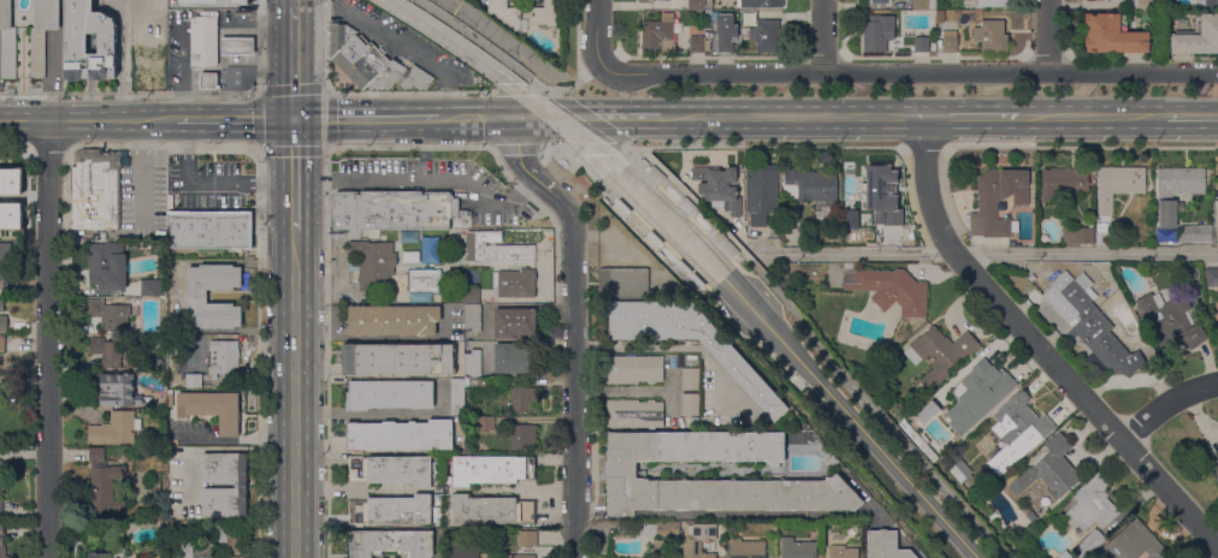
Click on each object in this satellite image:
building: (651, 0)
building: (1101, 0)
building: (880, 1)
road: (295, 2)
building: (767, 2)
building: (992, 2)
building: (1208, 4)
building: (696, 5)
building: (923, 5)
building: (1145, 5)
building: (549, 13)
building: (507, 14)
building: (940, 17)
building: (41, 34)
road: (595, 34)
road: (822, 35)
building: (1113, 35)
building: (765, 36)
building: (876, 36)
building: (991, 36)
road: (1048, 36)
building: (1198, 36)
building: (658, 37)
building: (6, 42)
building: (89, 42)
building: (203, 42)
building: (698, 44)
building: (921, 44)
building: (948, 44)
road: (486, 46)
building: (722, 46)
building: (237, 47)
road: (259, 47)
building: (367, 60)
road: (125, 61)
road: (295, 61)
road: (602, 65)
building: (148, 66)
road: (909, 71)
building: (208, 81)
road: (562, 88)
road: (514, 90)
road: (365, 91)
road: (260, 94)
road: (366, 118)
road: (477, 118)
traffic signals: (516, 118)
road: (536, 118)
traffic signals: (555, 118)
road: (589, 118)
road: (607, 118)
road: (793, 118)
road: (975, 118)
road: (1093, 118)
road: (1192, 118)
road: (78, 119)
road: (226, 119)
traffic signals: (295, 119)
road: (1078, 146)
road: (410, 147)
road: (552, 147)
road: (593, 147)
road: (763, 147)
road: (515, 148)
road: (924, 148)
road: (295, 174)
building: (655, 174)
building: (1093, 179)
building: (7, 180)
building: (1063, 182)
parking lot: (209, 183)
parking lot: (439, 185)
building: (1117, 185)
building: (810, 186)
building: (1176, 186)
building: (719, 188)
building: (96, 189)
building: (761, 194)
building: (877, 198)
road: (681, 202)
building: (987, 203)
building: (686, 206)
building: (620, 208)
building: (394, 210)
road: (633, 218)
building: (7, 222)
building: (209, 230)
building: (1217, 231)
building: (1195, 233)
building: (716, 235)
building: (1077, 236)
building: (652, 239)
building: (144, 245)
road: (260, 247)
building: (728, 248)
building: (496, 250)
road: (993, 254)
building: (410, 256)
building: (373, 265)
building: (107, 266)
building: (680, 268)
building: (4, 269)
building: (784, 269)
building: (1212, 277)
building: (422, 280)
building: (693, 281)
building: (514, 283)
building: (622, 283)
building: (153, 287)
building: (891, 290)
building: (469, 295)
building: (197, 296)
building: (419, 296)
building: (1, 307)
building: (111, 315)
building: (392, 320)
building: (1170, 320)
building: (514, 322)
building: (1090, 322)
building: (2, 323)
building: (1217, 325)
road: (573, 326)
road: (47, 338)
building: (2, 344)
road: (816, 345)
road: (669, 348)
road: (1039, 348)
building: (116, 352)
building: (939, 354)
building: (224, 357)
building: (397, 360)
building: (514, 360)
building: (472, 364)
building: (634, 369)
building: (744, 374)
building: (690, 379)
building: (194, 381)
building: (483, 386)
building: (120, 390)
road: (295, 394)
building: (389, 394)
road: (623, 394)
building: (978, 394)
building: (456, 397)
building: (170, 399)
building: (522, 399)
building: (690, 404)
road: (1166, 406)
building: (212, 409)
building: (634, 414)
road: (379, 415)
building: (692, 422)
building: (485, 423)
building: (116, 429)
building: (1017, 432)
building: (400, 435)
building: (522, 438)
building: (824, 453)
building: (1052, 469)
building: (1214, 469)
building: (390, 470)
building: (489, 470)
building: (960, 471)
building: (622, 474)
building: (992, 482)
building: (102, 485)
building: (241, 485)
building: (438, 501)
building: (1090, 505)
building: (162, 506)
building: (1, 509)
building: (396, 510)
building: (490, 510)
building: (162, 514)
road: (757, 515)
building: (1028, 520)
building: (661, 529)
building: (227, 536)
building: (527, 539)
building: (697, 539)
building: (2, 541)
building: (390, 544)
building: (1089, 544)
building: (1135, 544)
building: (885, 545)
building: (462, 548)
building: (747, 548)
building: (798, 548)
building: (184, 551)
building: (842, 552)
building: (1063, 554)
building: (99, 556)
building: (518, 557)

